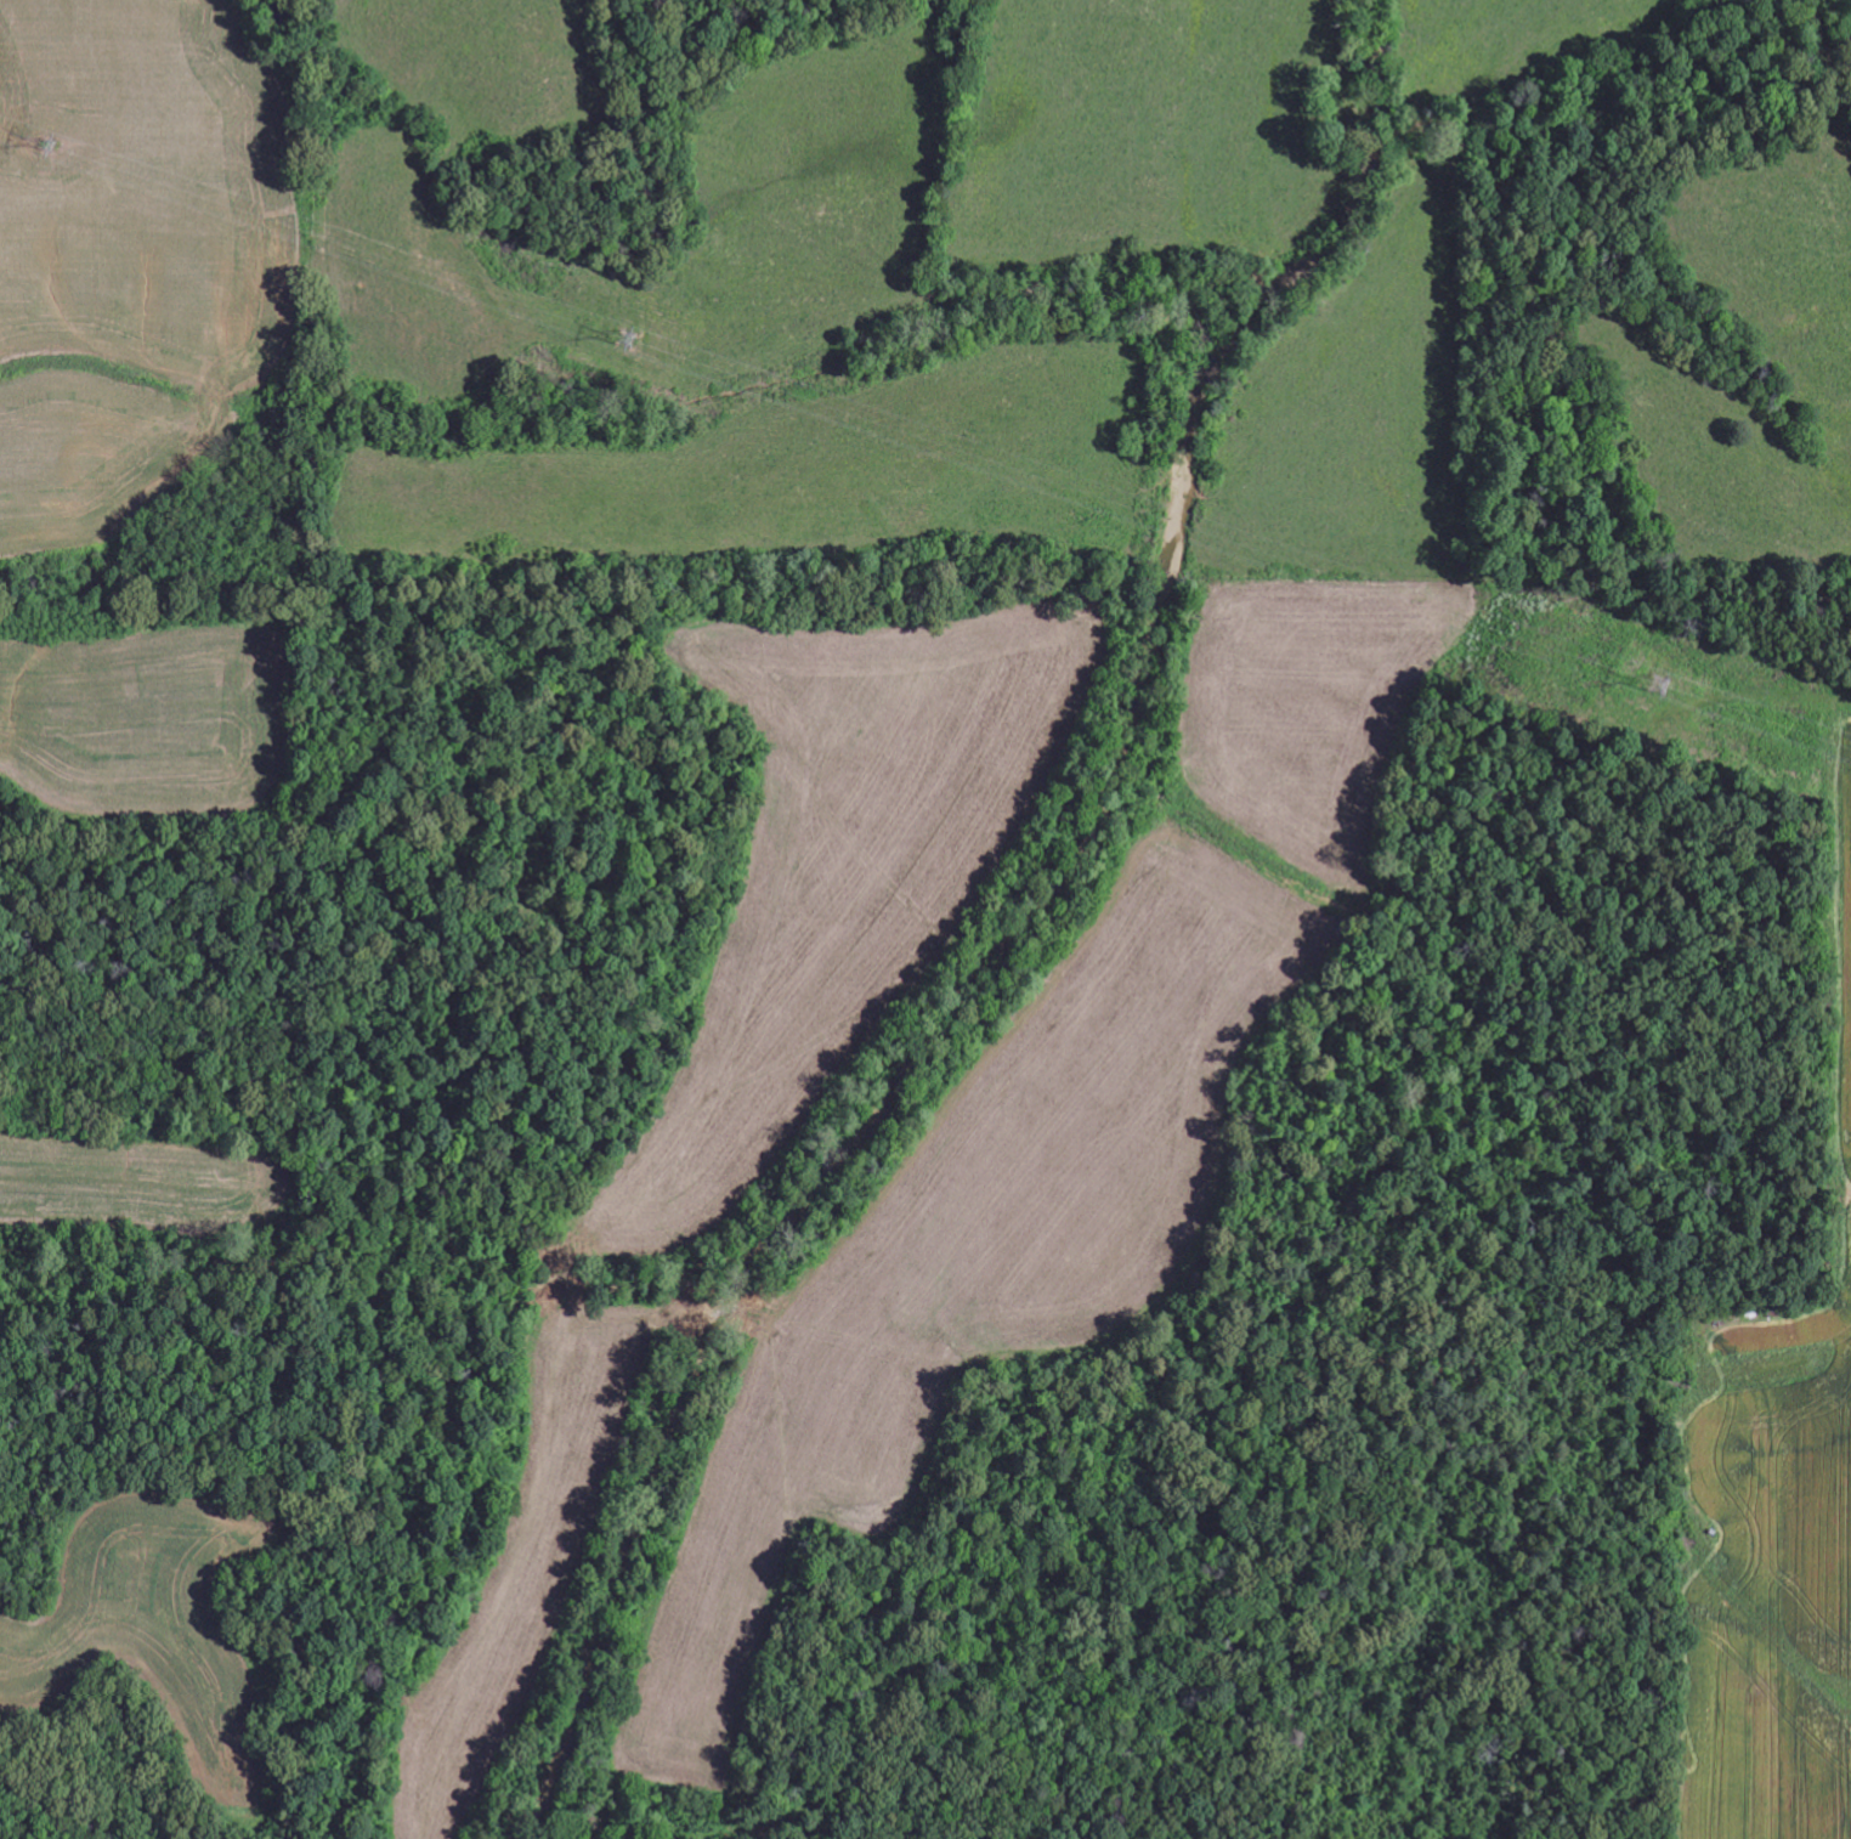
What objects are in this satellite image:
power tower: (30, 130)
power tower: (619, 330)
power tower: (1637, 675)

